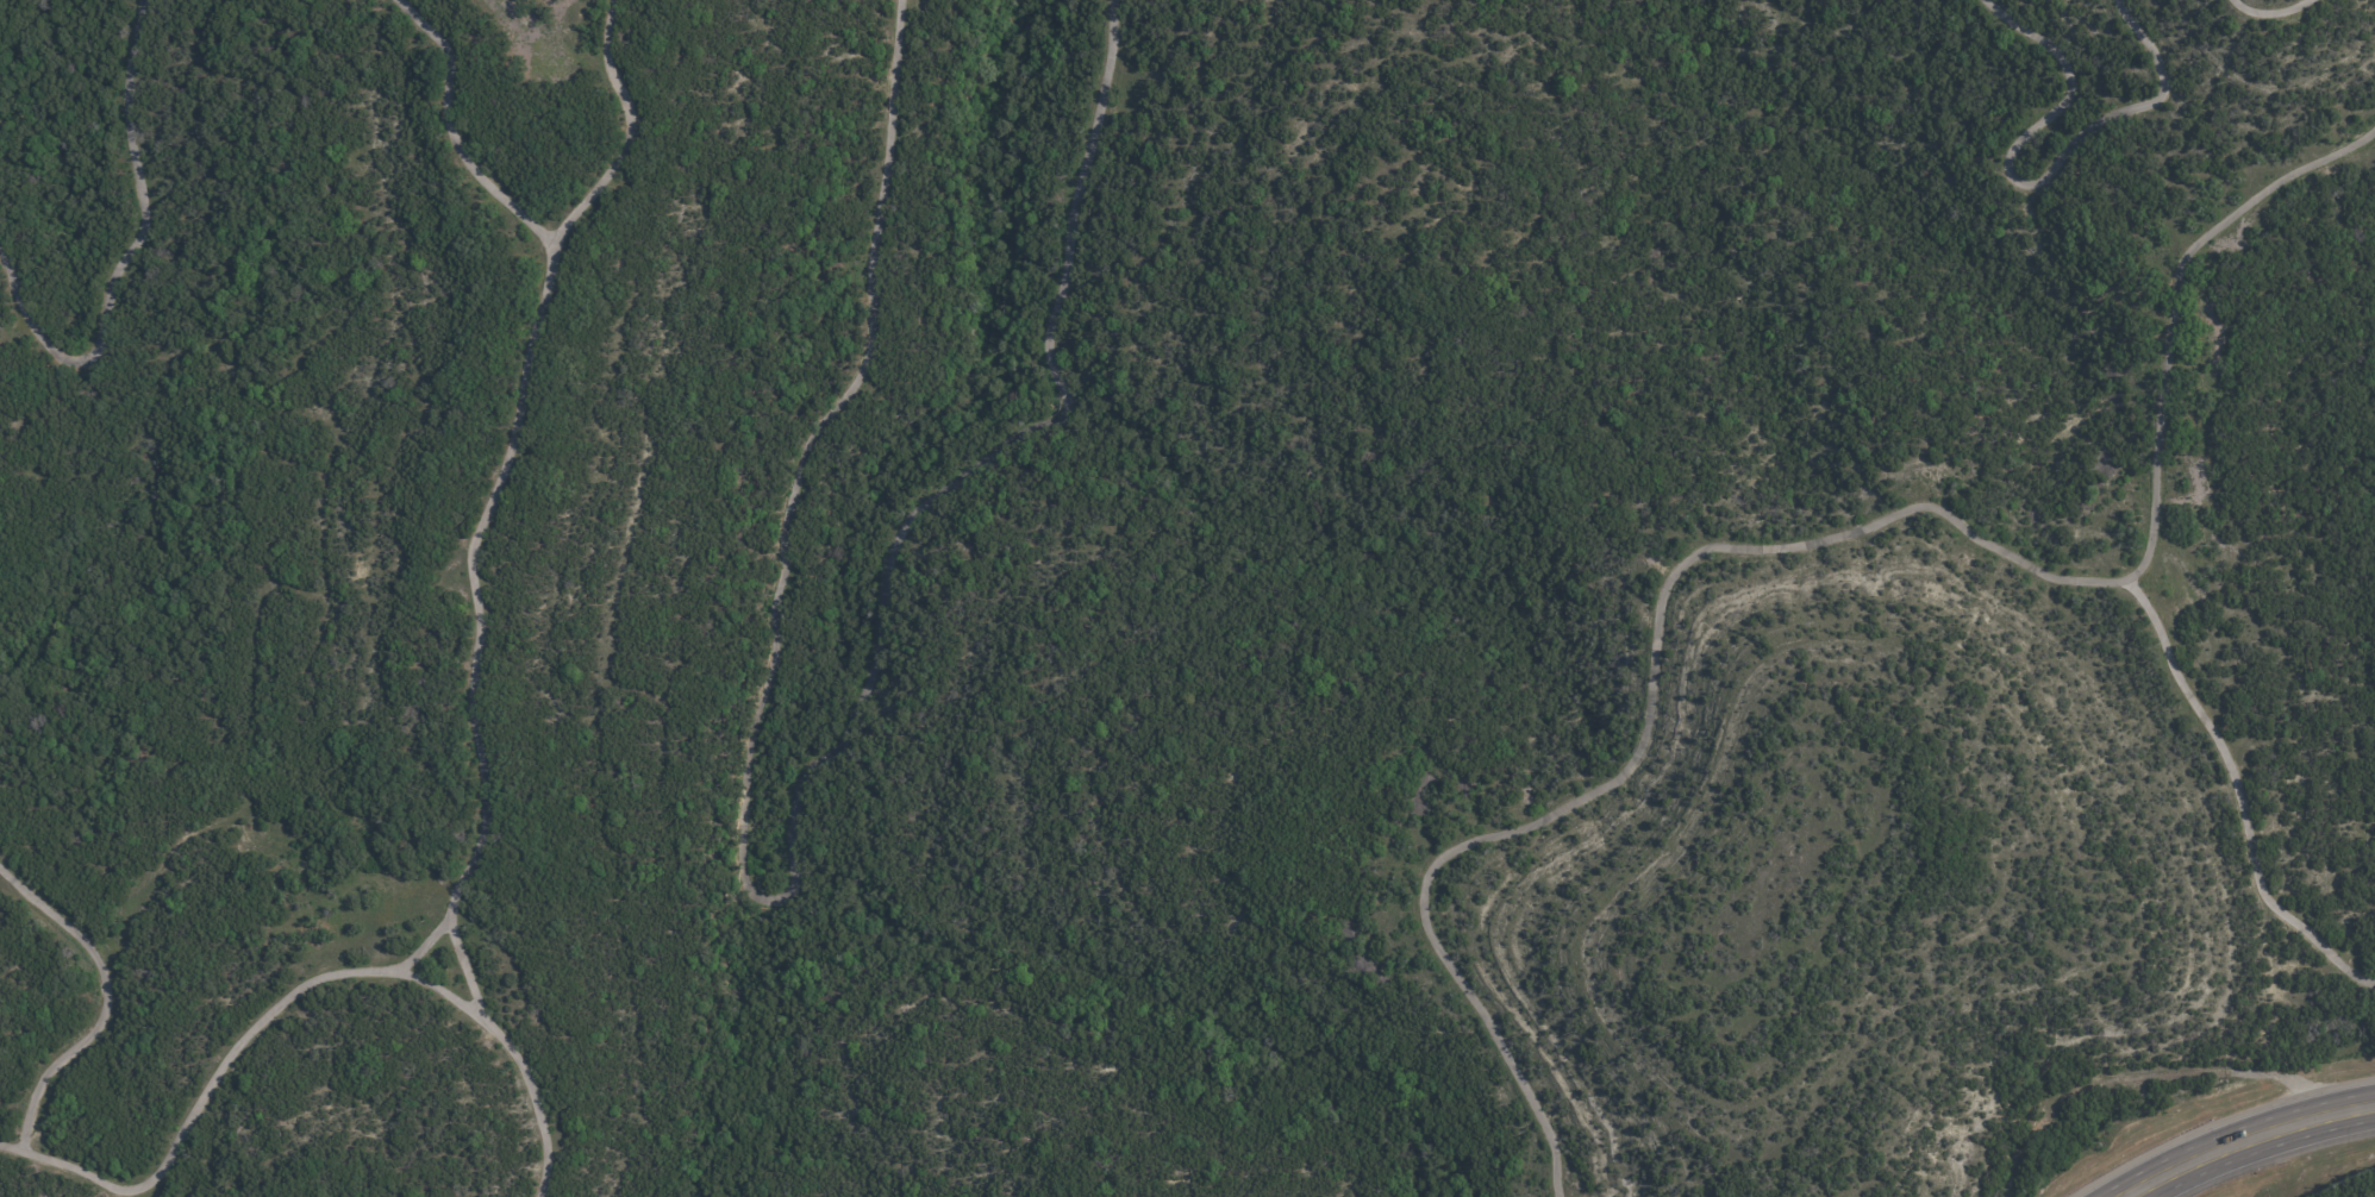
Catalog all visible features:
road: (2245, 1141)

